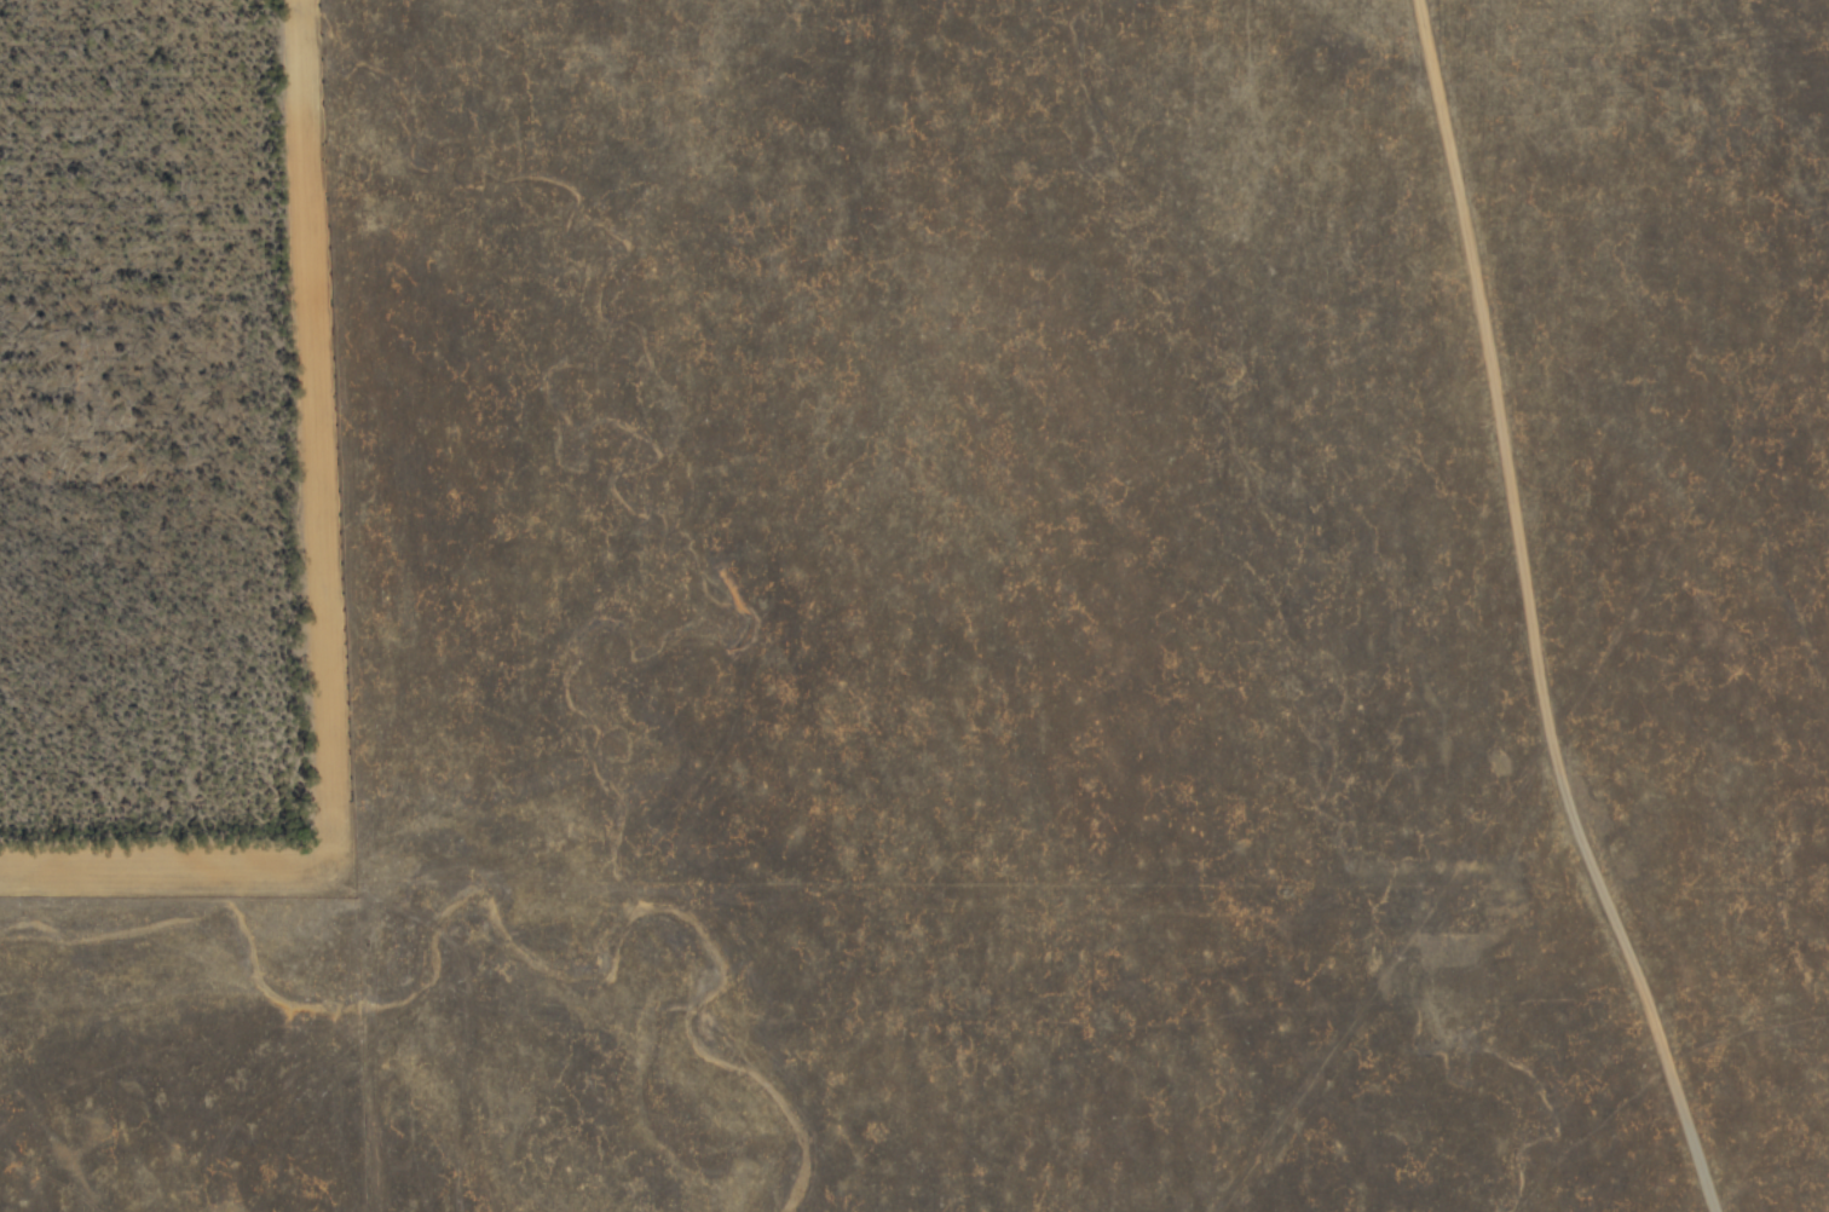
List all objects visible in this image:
road: (1527, 616)

